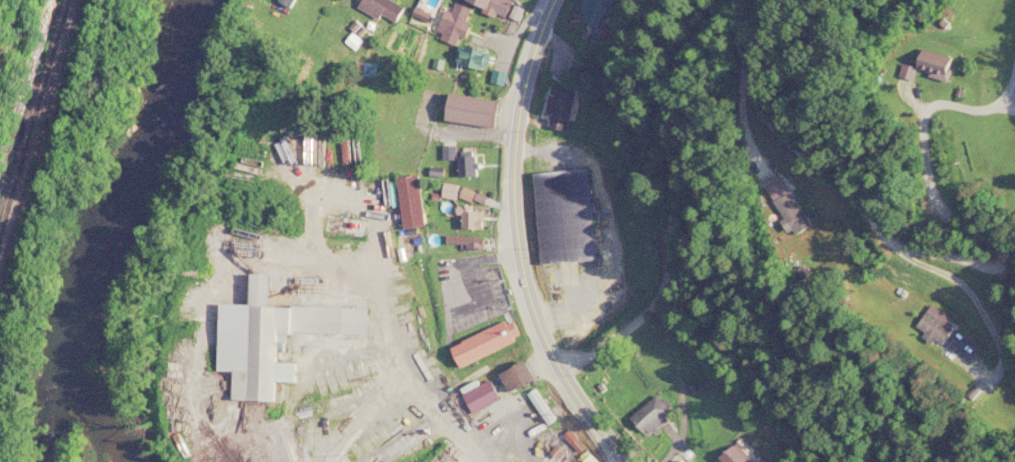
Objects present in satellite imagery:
building: (292, 1)
building: (493, 5)
building: (384, 8)
building: (592, 11)
building: (455, 22)
building: (473, 57)
building: (933, 65)
road: (1011, 103)
building: (470, 110)
building: (559, 110)
railway: (31, 119)
road: (744, 130)
railway: (37, 140)
building: (449, 152)
building: (467, 164)
building: (449, 190)
road: (670, 197)
building: (410, 200)
building: (791, 214)
building: (470, 216)
building: (564, 216)
building: (344, 224)
river: (118, 232)
road: (519, 243)
road: (951, 256)
road: (980, 313)
building: (934, 326)
building: (485, 341)
building: (262, 345)
road: (398, 358)
road: (771, 364)
building: (516, 375)
building: (481, 395)
building: (652, 413)
building: (734, 455)

